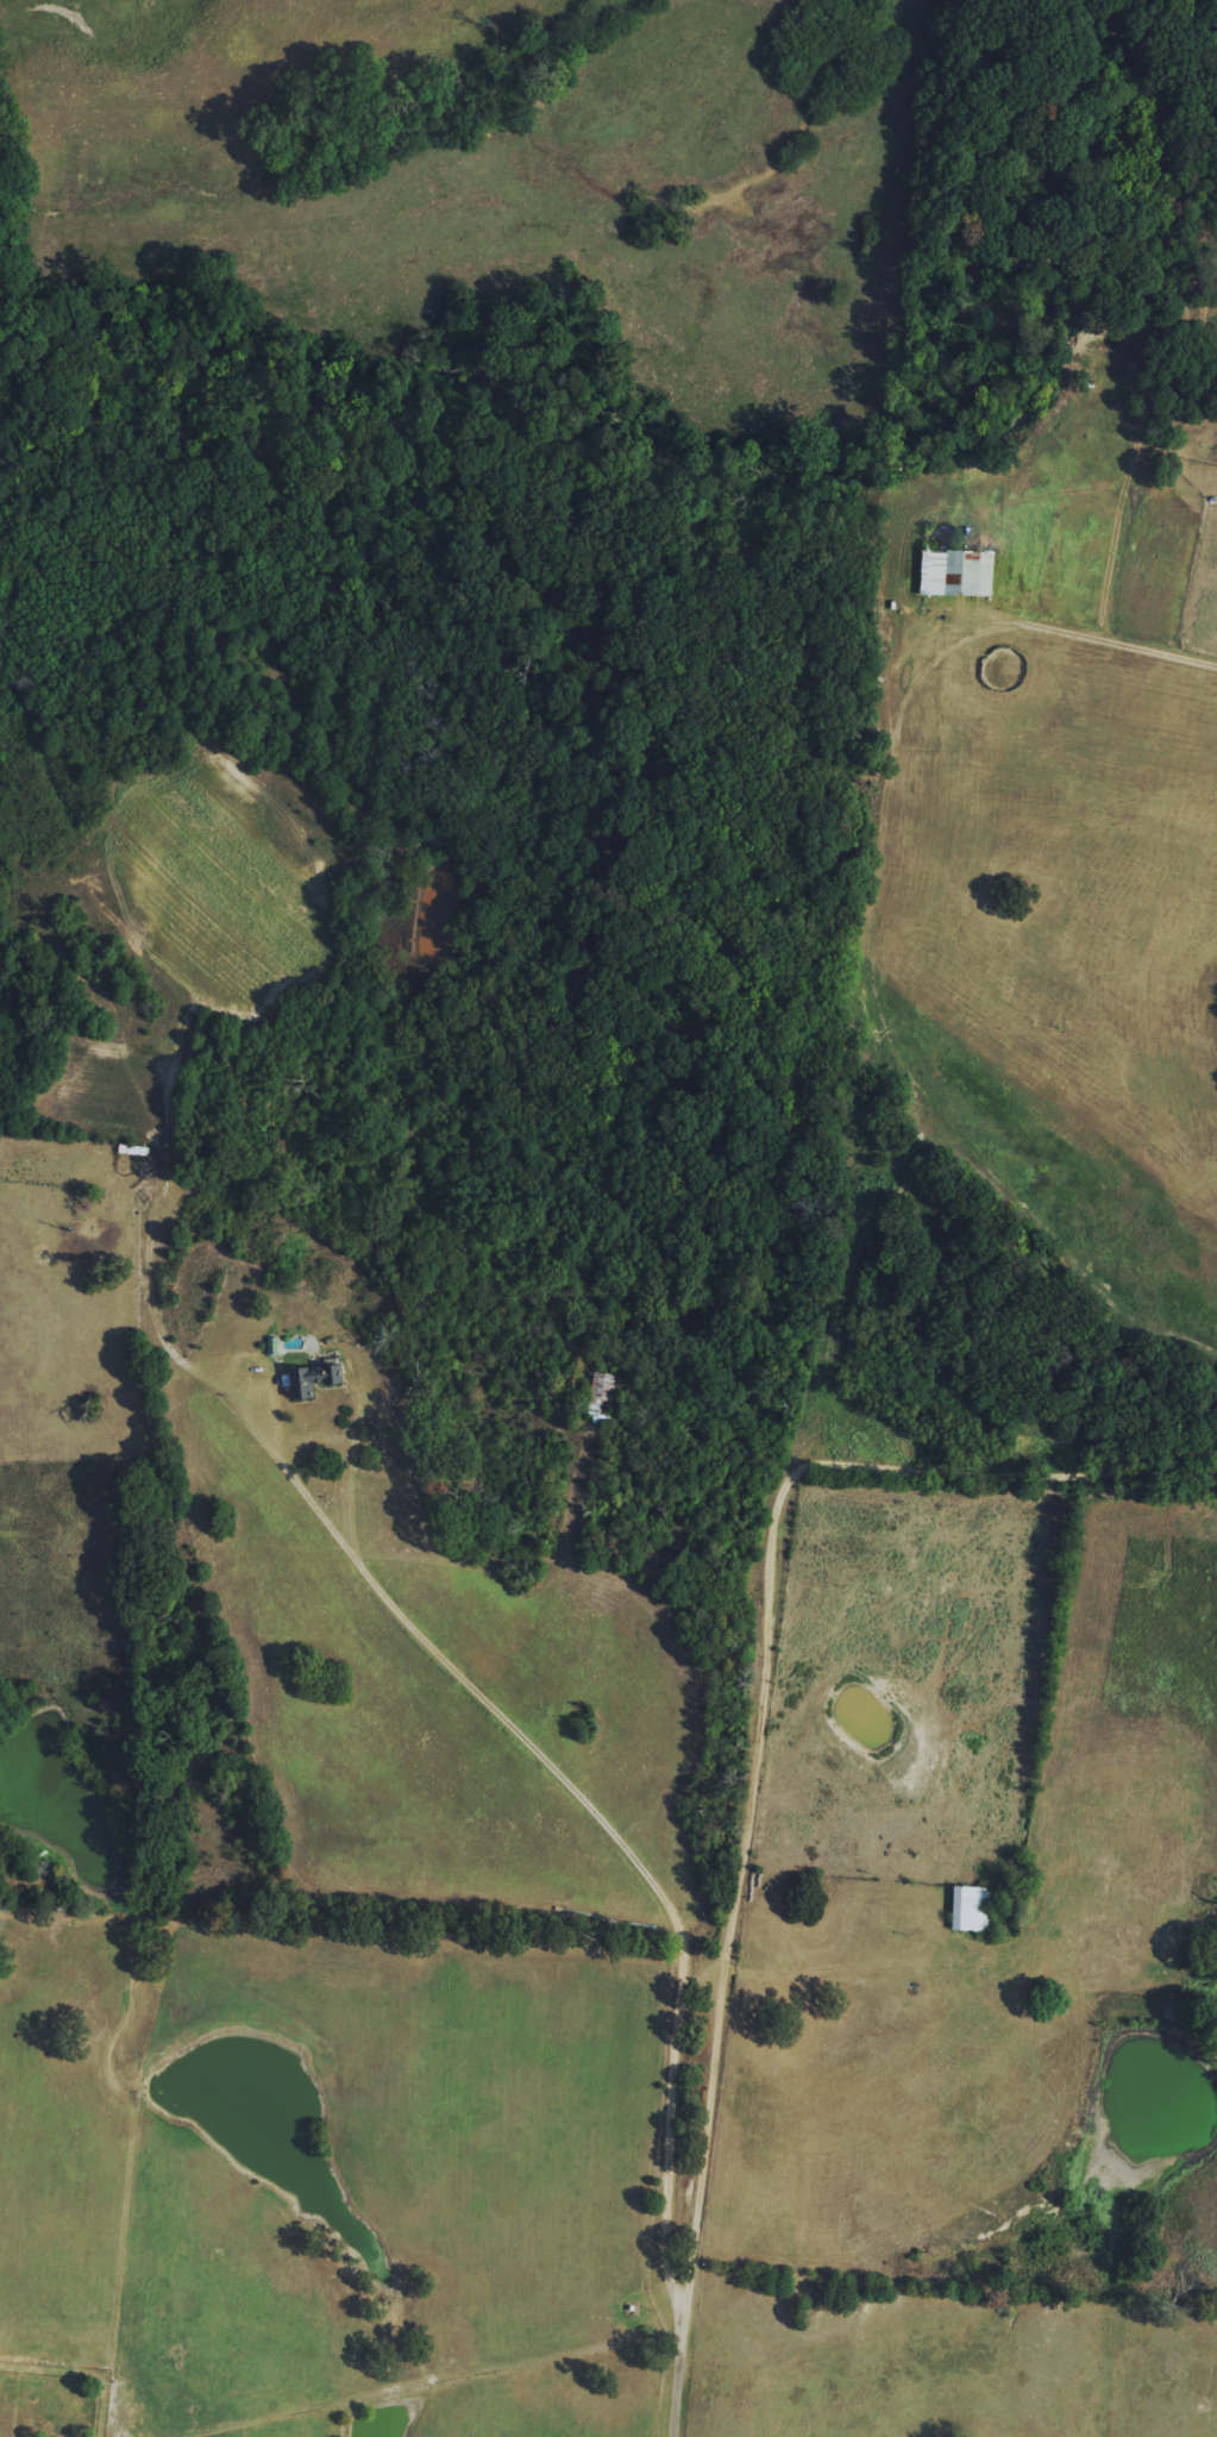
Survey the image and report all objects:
building: (958, 571)
road: (1118, 640)
road: (360, 1559)
road: (759, 1683)
building: (971, 1909)
road: (670, 2166)

